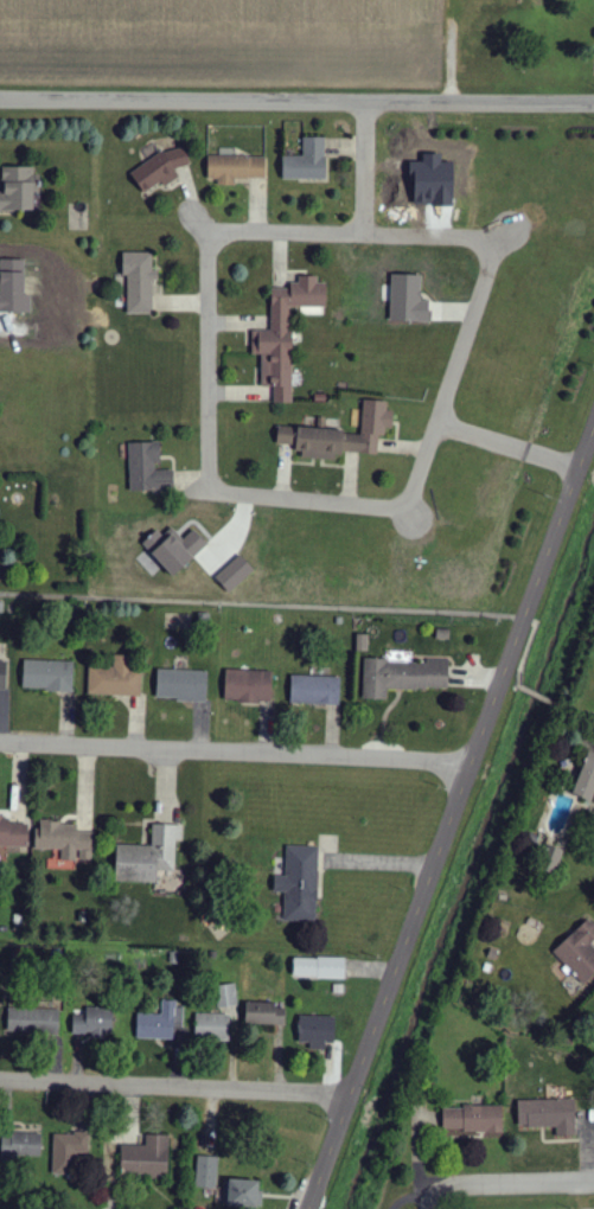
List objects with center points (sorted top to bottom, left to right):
crop: (223, 44)
road: (296, 97)
building: (307, 161)
road: (360, 166)
building: (161, 168)
building: (235, 168)
building: (18, 190)
road: (352, 232)
building: (139, 282)
building: (285, 334)
road: (206, 360)
road: (451, 367)
building: (340, 436)
road: (505, 447)
building: (147, 471)
road: (304, 495)
building: (174, 550)
building: (235, 574)
road: (300, 602)
building: (2, 676)
building: (47, 676)
building: (403, 677)
building: (116, 679)
building: (181, 686)
building: (249, 686)
building: (314, 691)
road: (542, 696)
road: (580, 711)
road: (234, 754)
building: (587, 780)
road: (447, 818)
building: (13, 834)
building: (65, 840)
building: (148, 857)
building: (551, 859)
building: (300, 884)
building: (579, 952)
building: (319, 967)
building: (226, 996)
building: (264, 1013)
building: (34, 1021)
building: (94, 1022)
building: (161, 1022)
building: (212, 1026)
building: (317, 1031)
road: (172, 1086)
building: (548, 1115)
building: (473, 1119)
road: (419, 1144)
building: (21, 1146)
building: (68, 1152)
building: (146, 1158)
building: (206, 1171)
road: (507, 1181)
building: (244, 1192)
road: (421, 1196)

